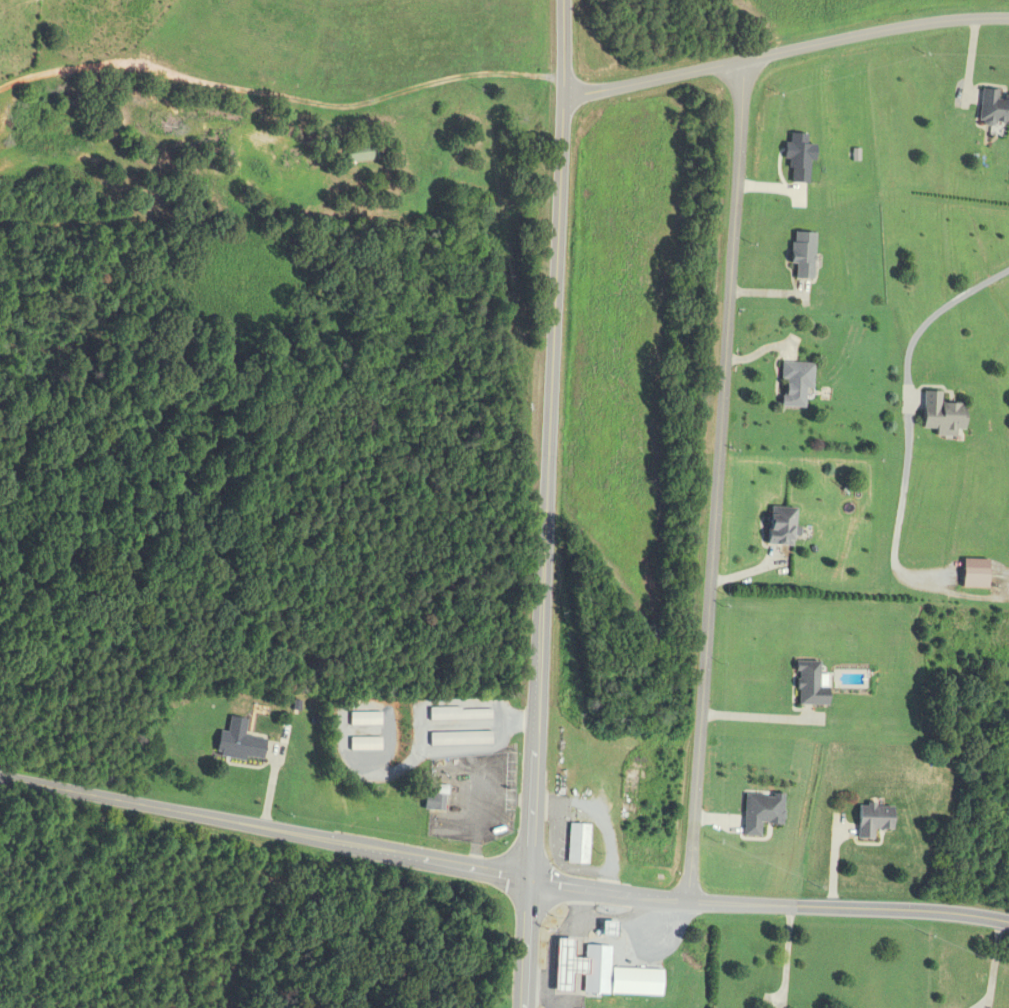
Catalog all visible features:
road: (786, 56)
building: (991, 109)
building: (363, 153)
building: (799, 255)
building: (798, 382)
road: (912, 408)
road: (715, 487)
road: (545, 504)
building: (783, 525)
building: (805, 684)
building: (461, 713)
building: (366, 718)
road: (388, 724)
road: (477, 725)
road: (365, 729)
building: (461, 739)
building: (241, 742)
road: (465, 749)
road: (418, 752)
building: (437, 801)
building: (758, 811)
building: (870, 820)
road: (264, 833)
building: (580, 843)
traffic signals: (528, 884)
road: (767, 914)
road: (620, 922)
building: (611, 928)
road: (784, 962)
road: (993, 964)
building: (564, 965)
road: (575, 970)
road: (550, 974)
building: (616, 974)
road: (561, 1001)
road: (980, 1004)
road: (988, 1004)

